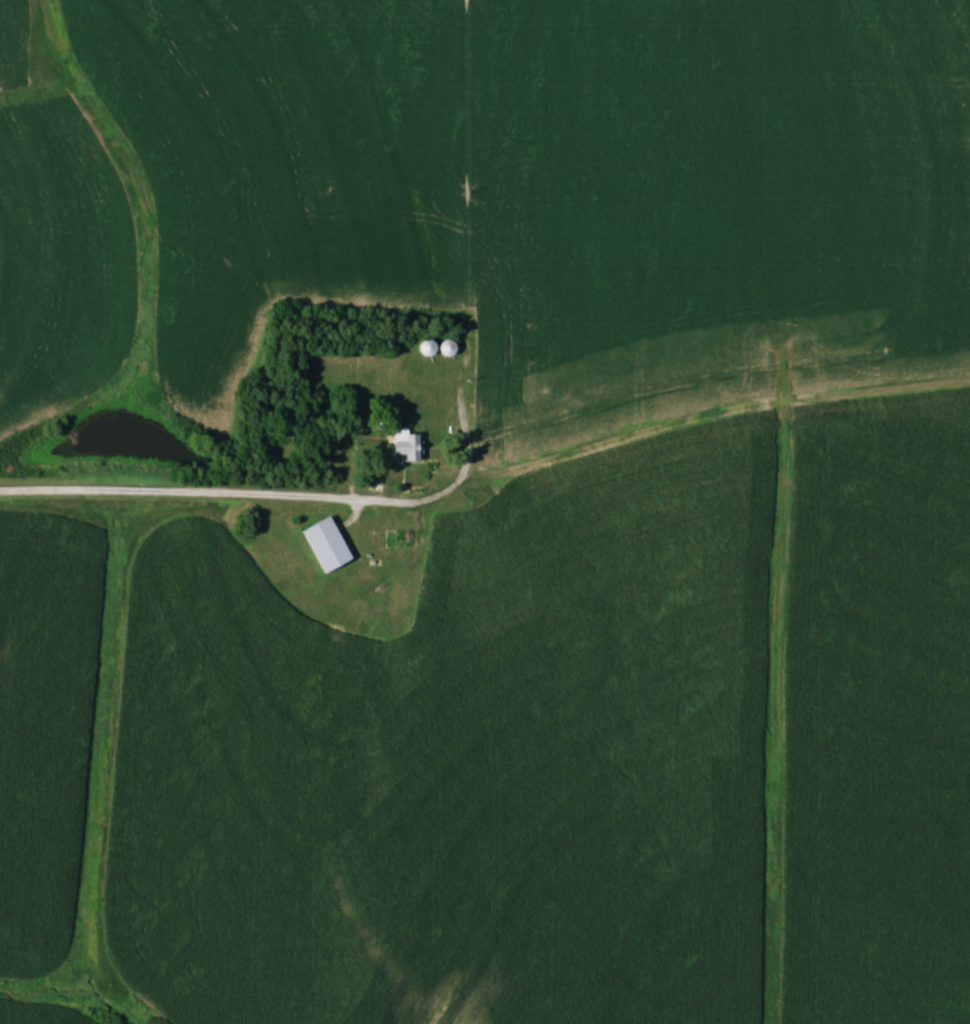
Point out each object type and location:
building: (404, 445)
road: (181, 494)
building: (322, 545)
building: (370, 636)

